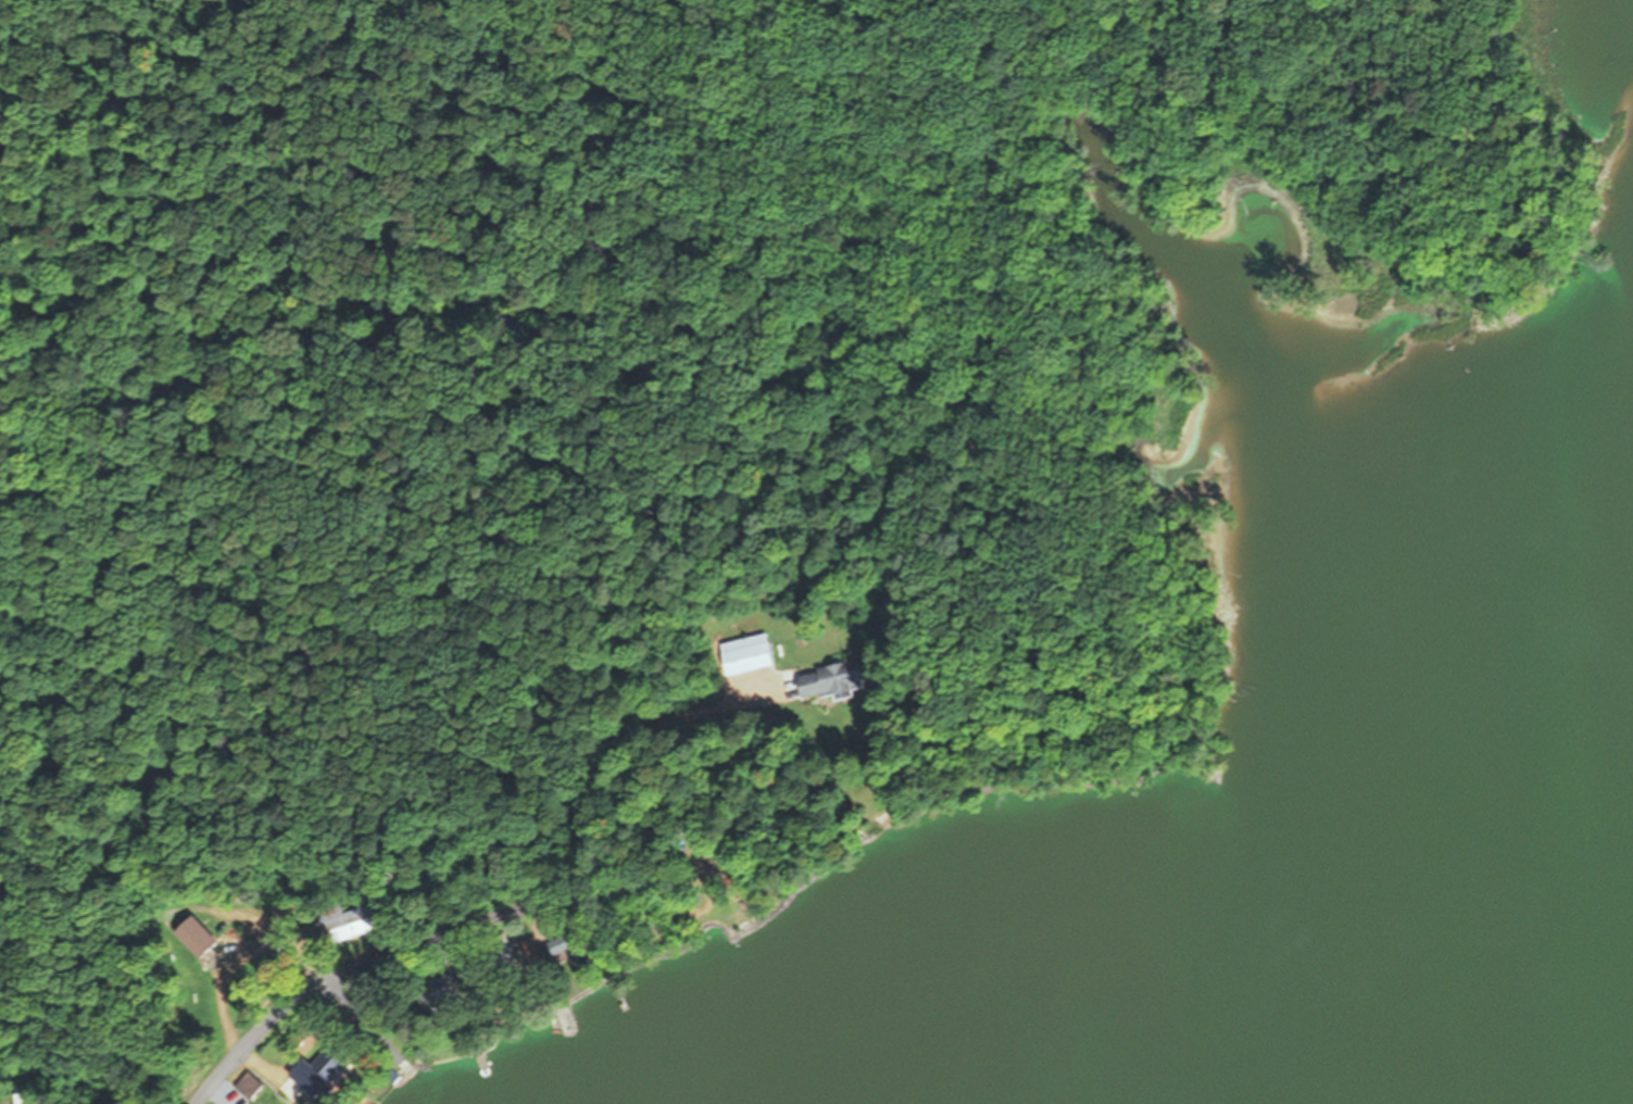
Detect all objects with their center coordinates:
building: (749, 654)
building: (832, 679)
building: (357, 923)
building: (578, 944)
road: (400, 952)
building: (540, 953)
building: (453, 991)
road: (354, 1006)
building: (323, 1069)

